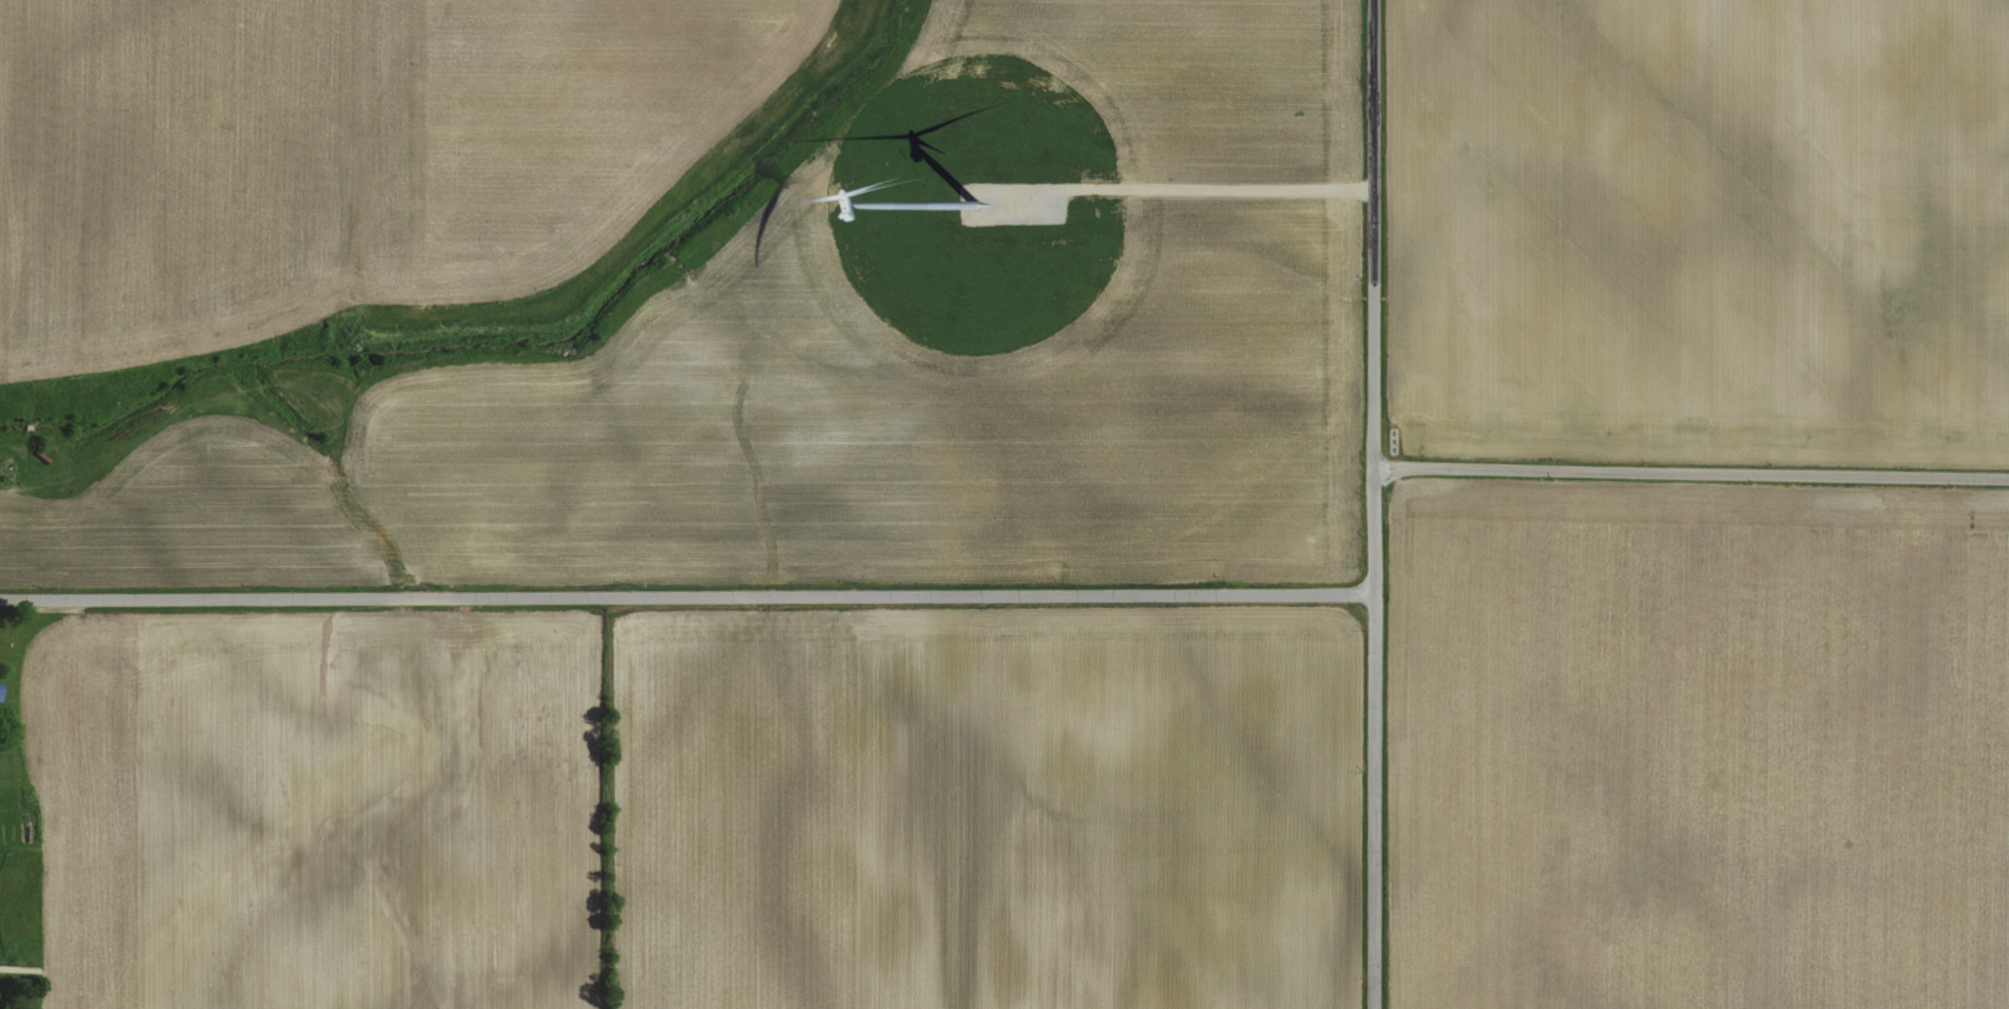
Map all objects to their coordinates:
wind turbine: (978, 204)
road: (1690, 473)
road: (1371, 504)
road: (685, 598)

